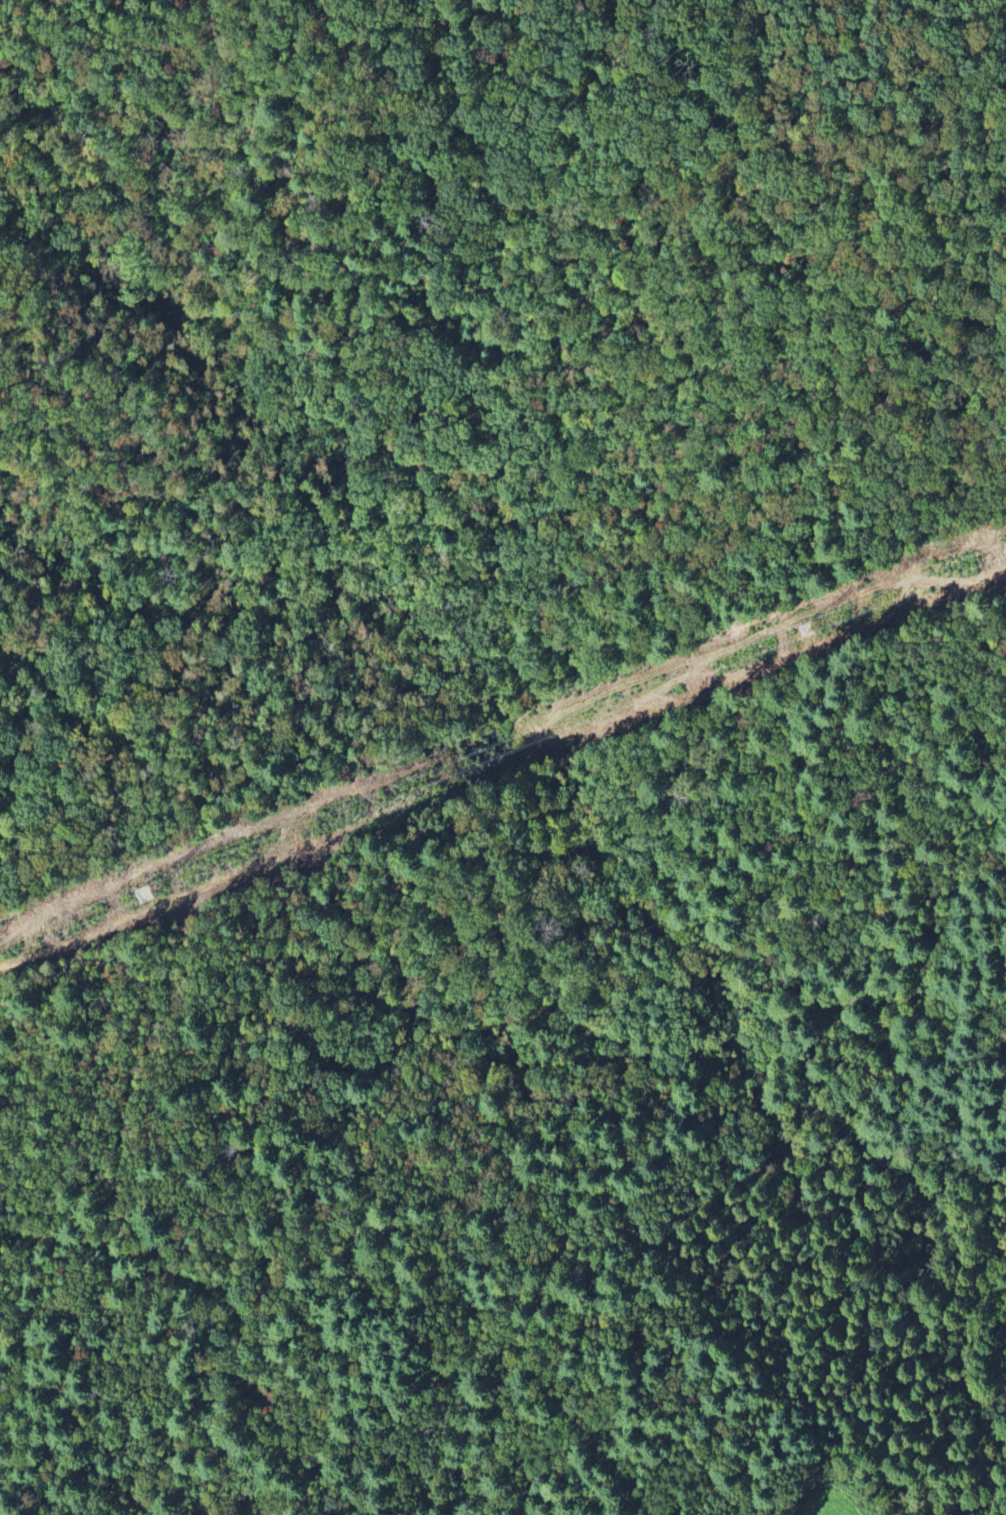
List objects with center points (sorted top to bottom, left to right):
power tower: (807, 631)
power tower: (141, 895)

